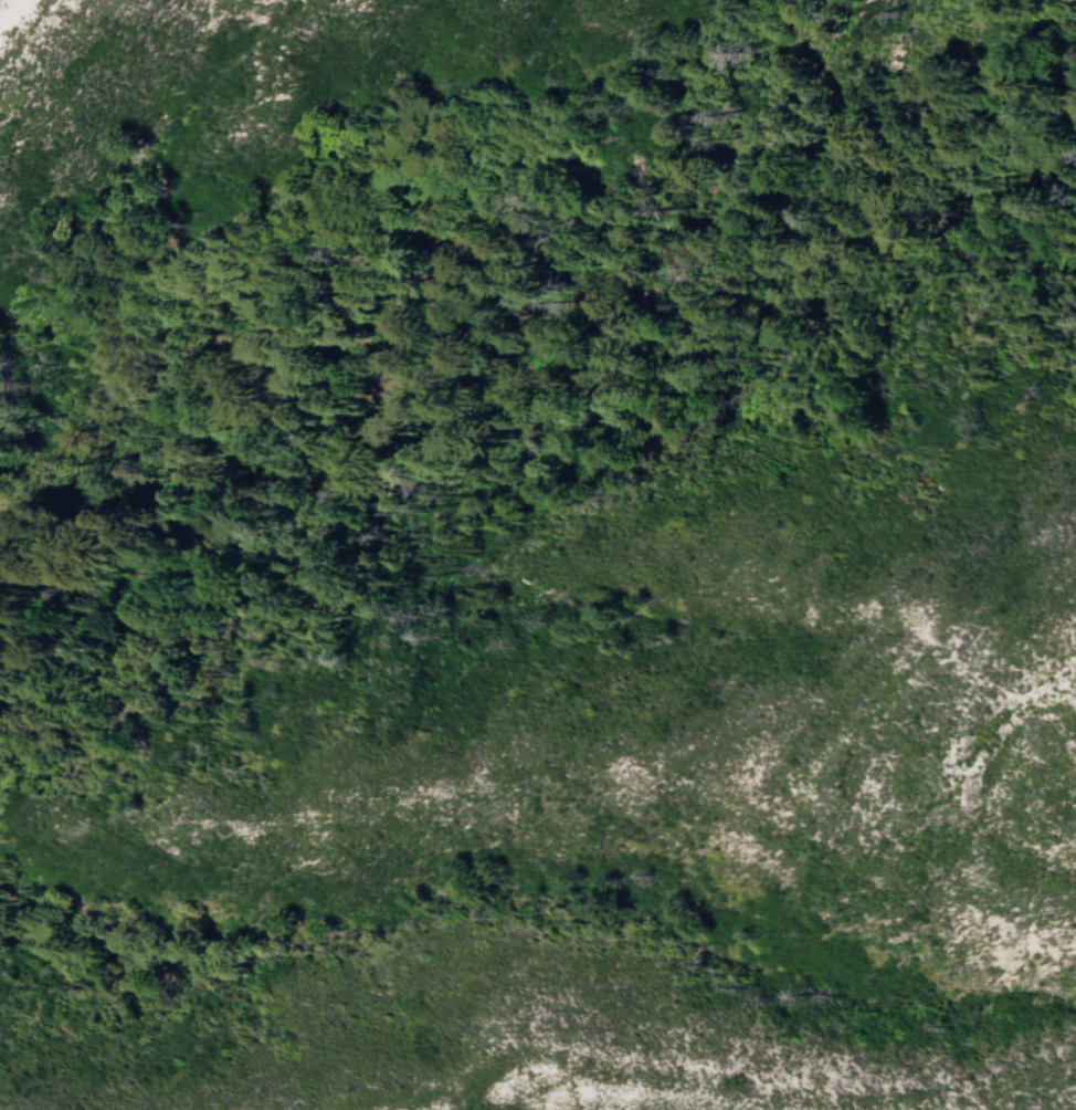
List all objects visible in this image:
road: (18, 13)

